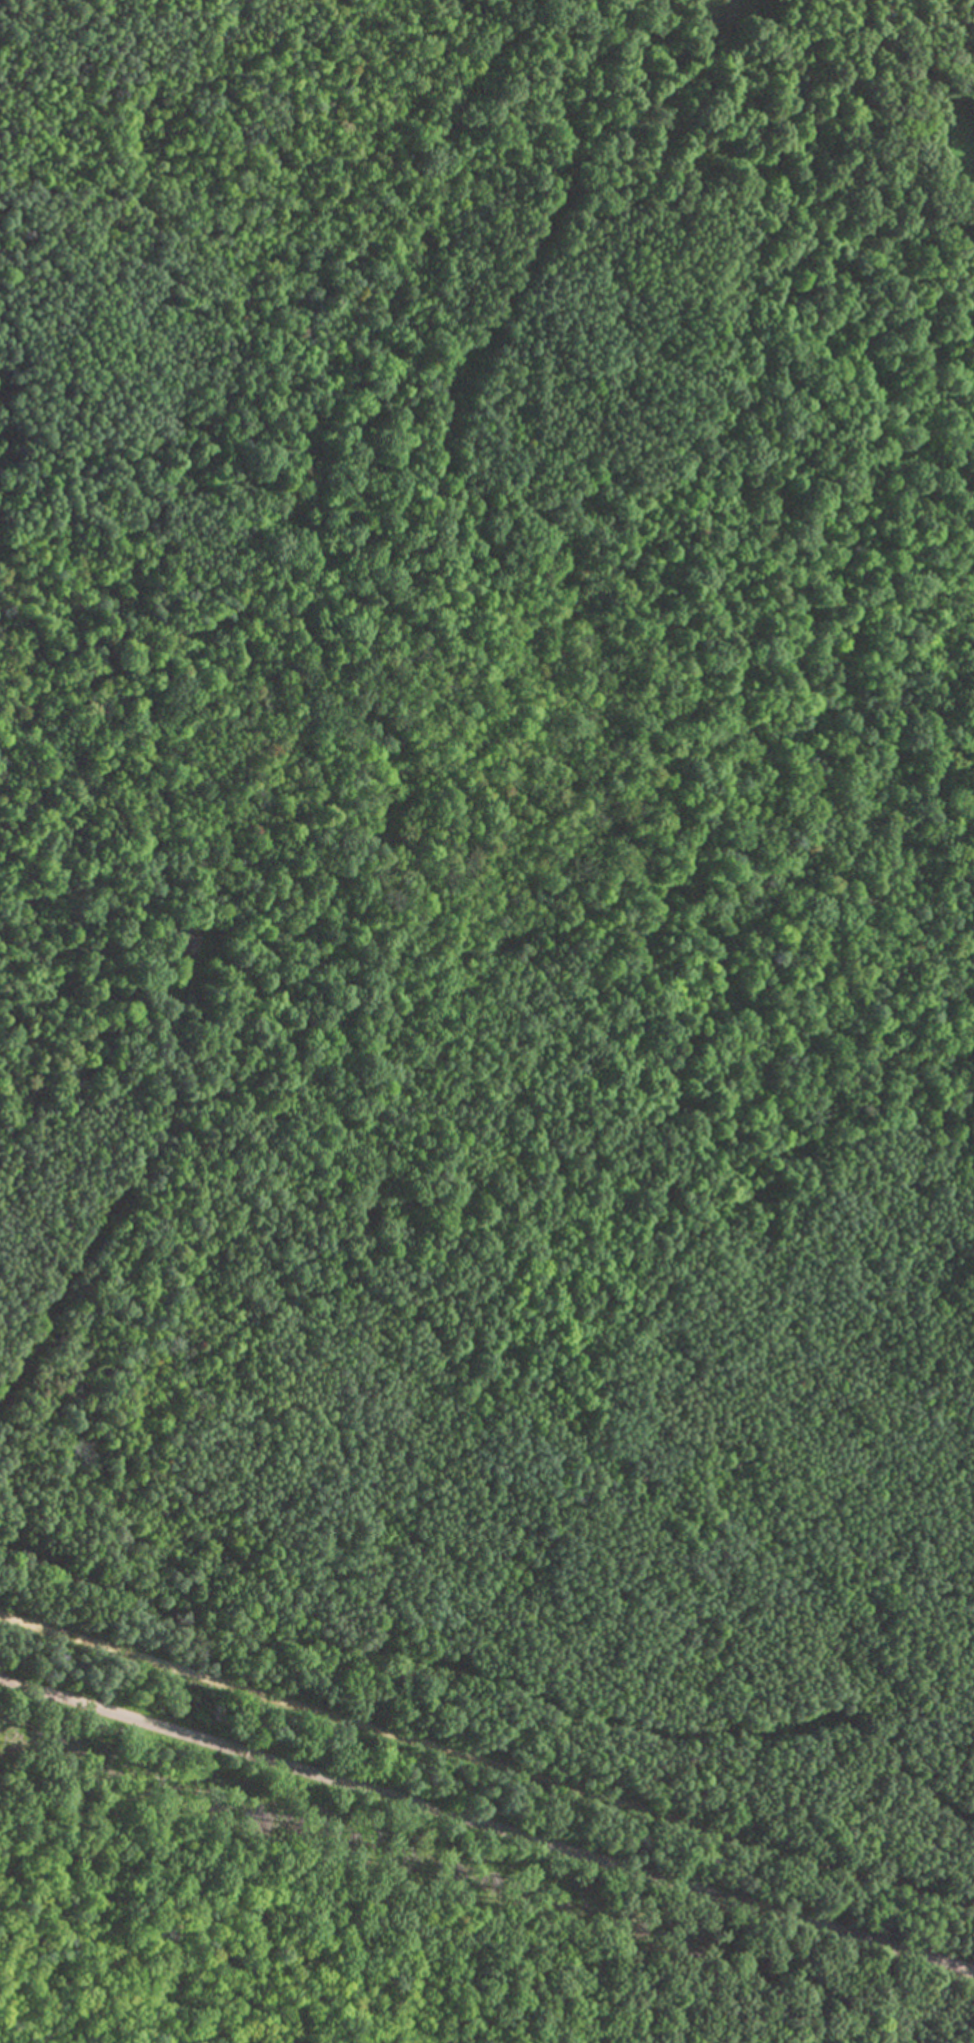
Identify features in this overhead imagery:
building: (184, 944)
road: (487, 1763)
road: (487, 1824)

